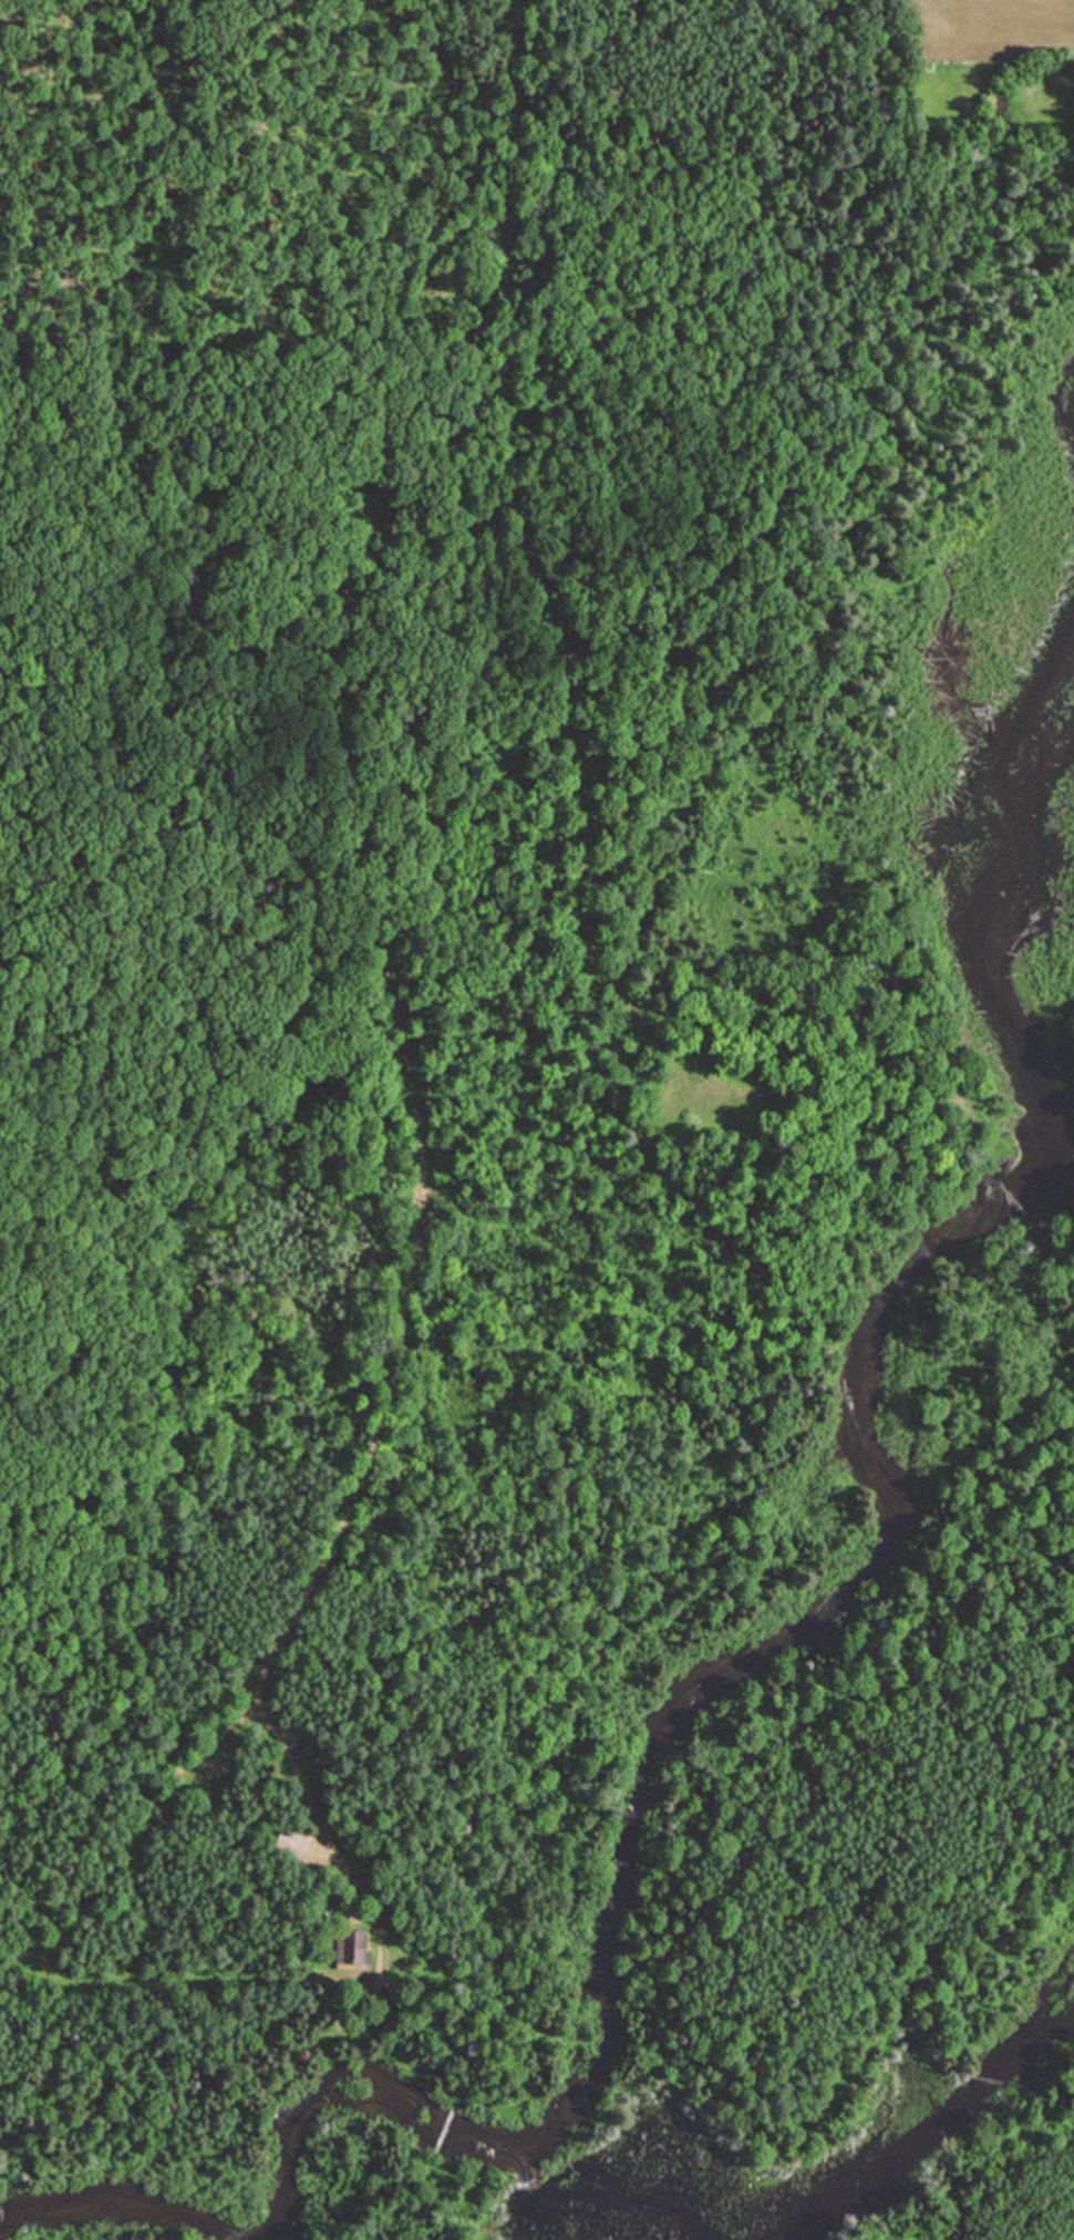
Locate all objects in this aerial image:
road: (375, 940)
river: (764, 1658)
building: (289, 1840)
building: (350, 1947)
river: (926, 2129)
river: (602, 2177)

